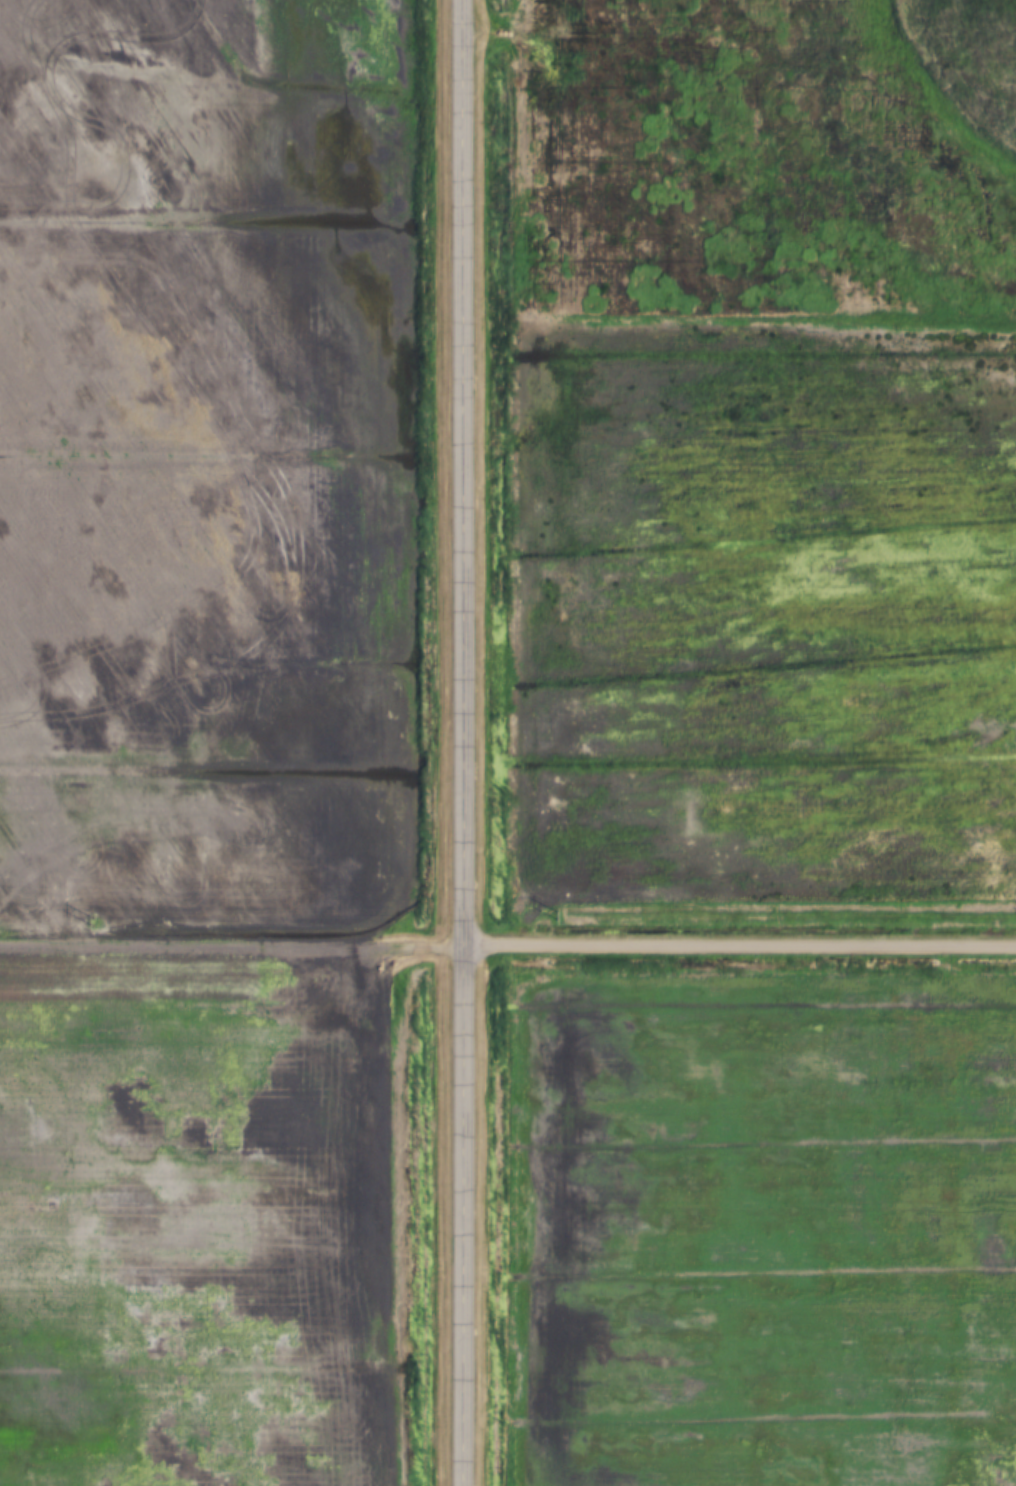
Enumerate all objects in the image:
road: (469, 742)
road: (742, 948)

